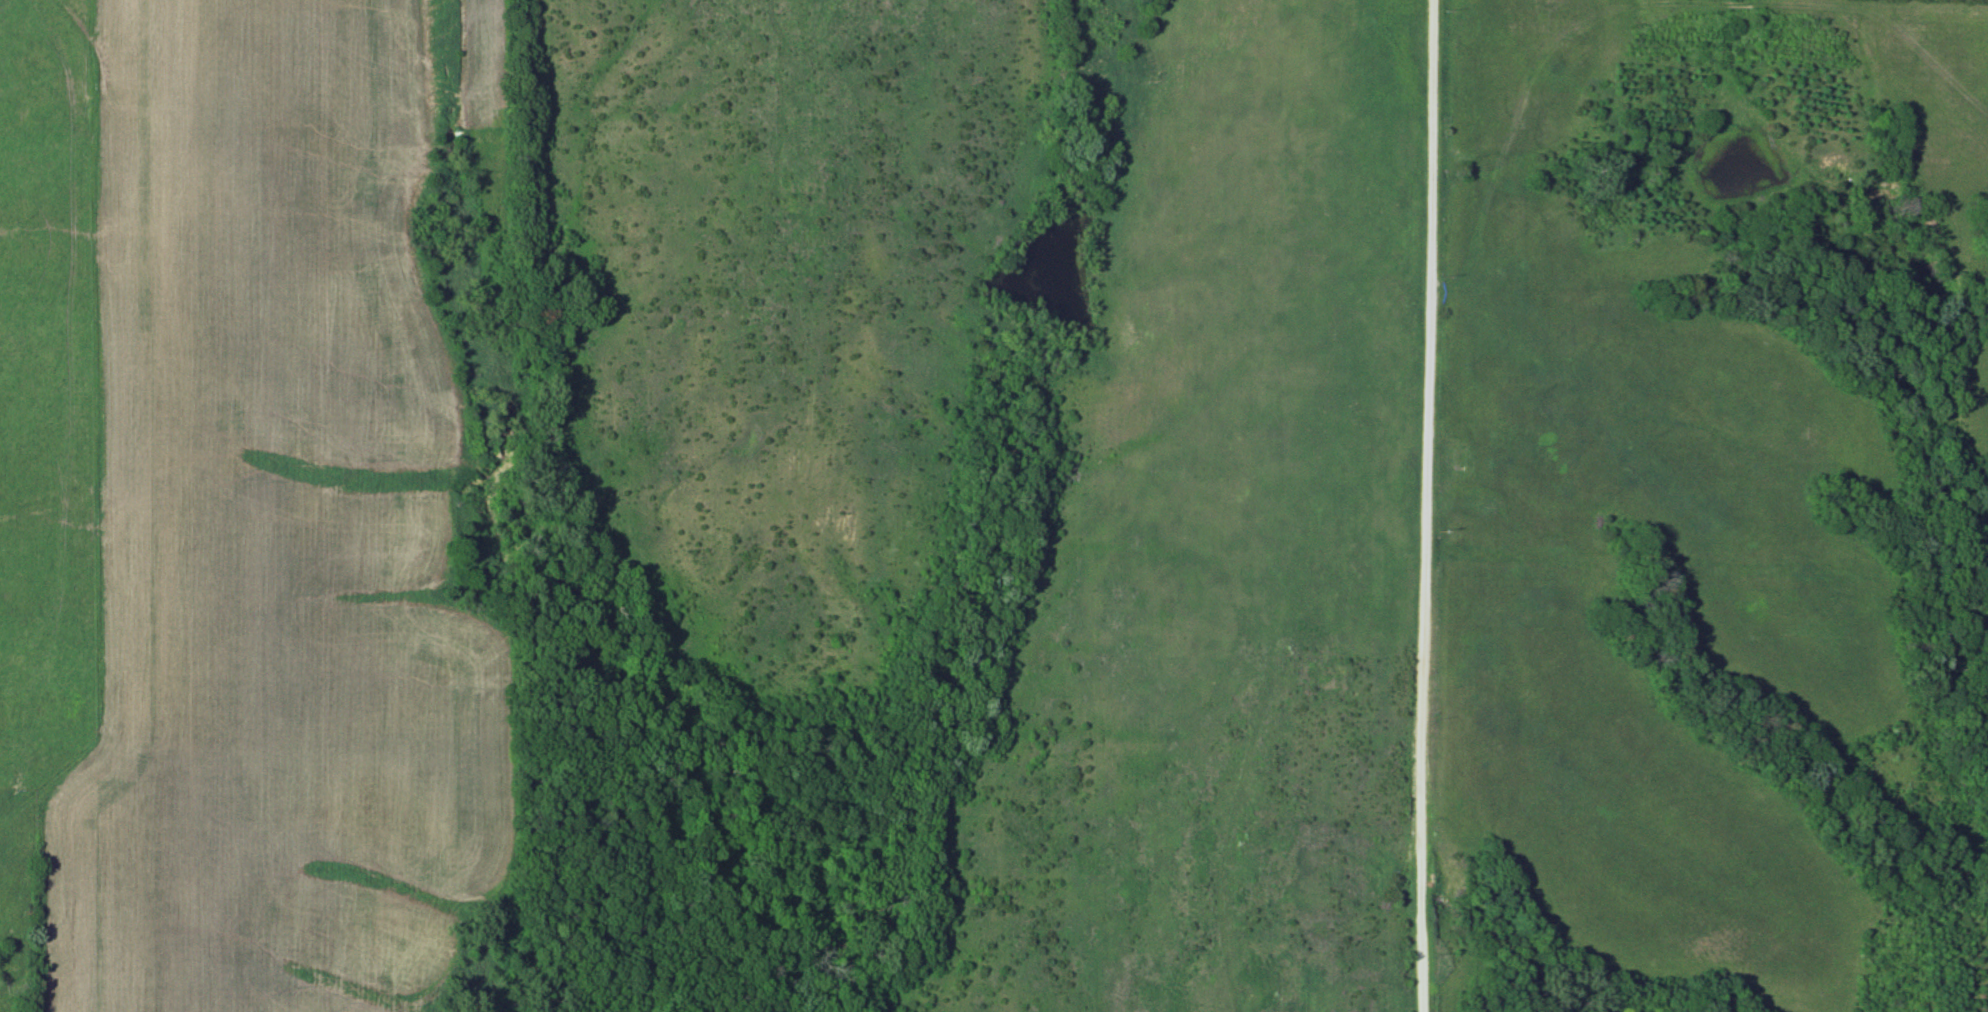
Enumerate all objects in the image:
road: (1427, 505)

